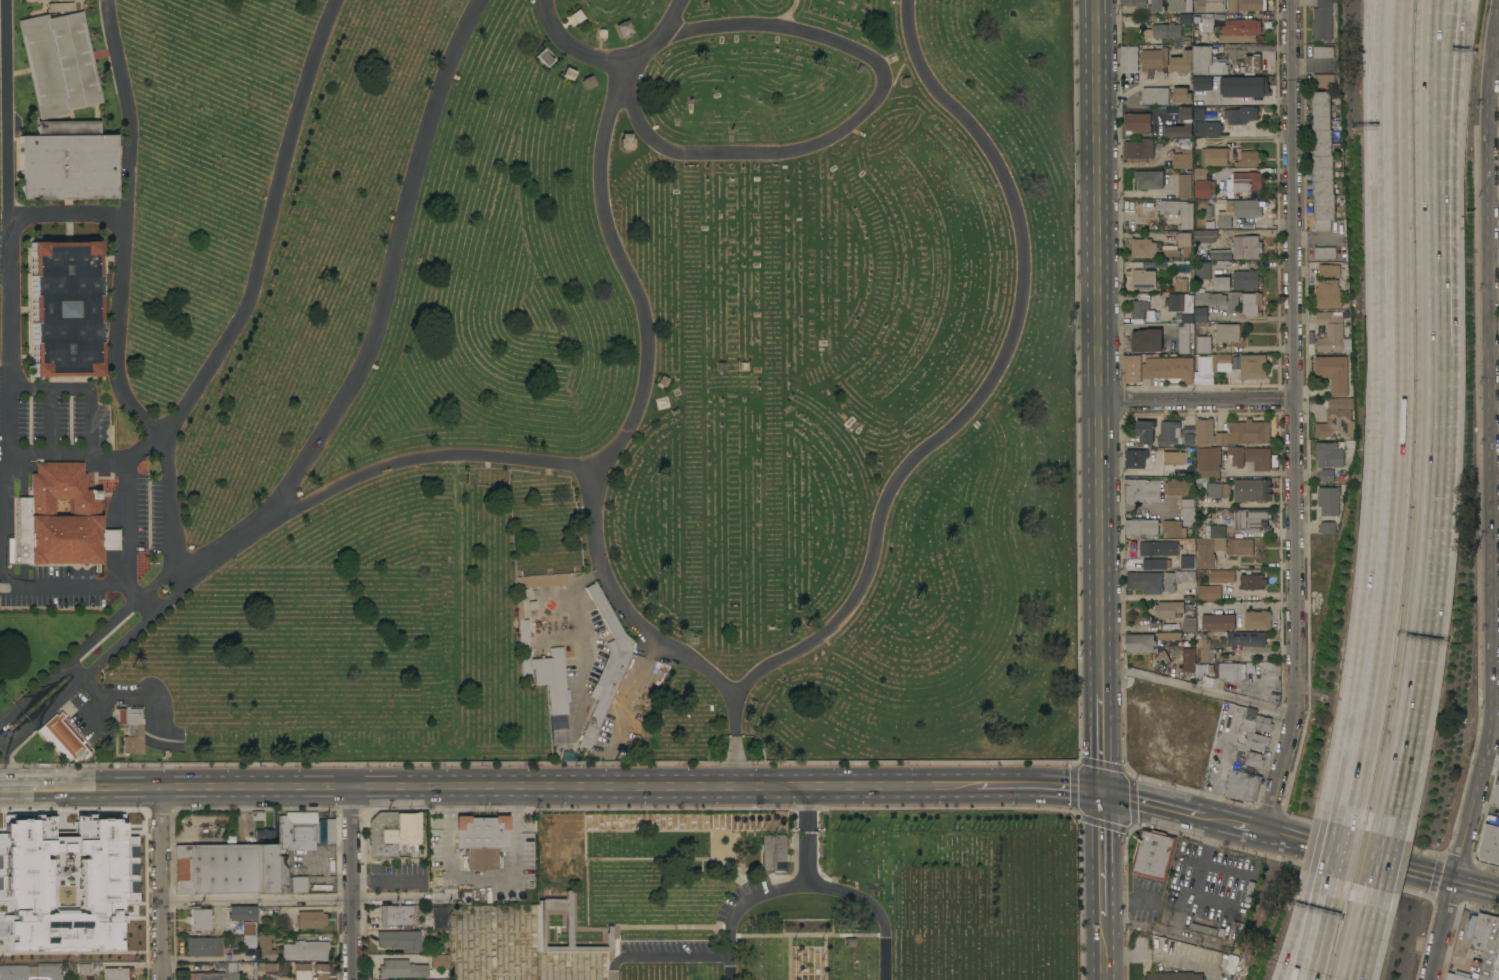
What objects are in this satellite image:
building: (43, 0)
building: (77, 0)
building: (1135, 2)
building: (1156, 5)
building: (1180, 5)
building: (1251, 5)
building: (60, 6)
building: (1233, 6)
building: (1209, 11)
road: (1440, 13)
road: (1441, 13)
building: (1323, 20)
building: (624, 27)
building: (1243, 28)
building: (1163, 30)
building: (1323, 51)
building: (544, 57)
building: (1154, 58)
building: (1129, 59)
building: (1181, 61)
building: (1207, 61)
building: (58, 62)
building: (1252, 63)
road: (1496, 69)
building: (1324, 79)
building: (1201, 83)
building: (1240, 83)
building: (1202, 91)
building: (1181, 94)
building: (1155, 95)
road: (1495, 100)
building: (1198, 113)
building: (1241, 114)
road: (6, 118)
building: (1186, 121)
building: (1137, 123)
building: (1207, 128)
road: (1495, 131)
road: (1253, 138)
building: (627, 141)
building: (1186, 142)
building: (1139, 148)
road: (803, 149)
building: (1214, 156)
building: (1183, 158)
building: (1249, 158)
building: (67, 160)
building: (1323, 162)
building: (1199, 173)
building: (1150, 179)
building: (1247, 181)
building: (1185, 185)
building: (1204, 188)
building: (1244, 207)
building: (1187, 219)
building: (1225, 221)
building: (1205, 235)
road: (1317, 237)
building: (1185, 242)
building: (1144, 247)
building: (1239, 248)
building: (1169, 250)
road: (1495, 251)
building: (1325, 252)
building: (1176, 266)
building: (1203, 269)
building: (1330, 270)
building: (1144, 279)
building: (1246, 279)
building: (1221, 283)
building: (1180, 284)
building: (1329, 292)
road: (1495, 292)
building: (1220, 299)
building: (1251, 304)
building: (1180, 305)
building: (1144, 306)
building: (44, 308)
building: (1200, 314)
road: (381, 315)
building: (1228, 332)
building: (1332, 332)
road: (1098, 336)
building: (1185, 338)
building: (1147, 339)
building: (1204, 344)
road: (7, 346)
road: (1495, 348)
building: (1211, 366)
building: (1253, 366)
building: (1169, 367)
building: (1131, 368)
road: (647, 370)
building: (1333, 372)
park: (537, 381)
road: (991, 383)
road: (84, 387)
road: (1197, 400)
building: (1341, 403)
road: (1389, 414)
road: (1296, 417)
building: (1336, 424)
road: (1496, 428)
road: (170, 430)
building: (1145, 430)
building: (1205, 430)
building: (1244, 432)
building: (1170, 433)
road: (1438, 434)
building: (1186, 439)
building: (1329, 454)
building: (1236, 455)
building: (1136, 457)
building: (1175, 457)
building: (1209, 457)
building: (1258, 457)
road: (415, 459)
road: (69, 460)
road: (1496, 469)
building: (1327, 474)
building: (1178, 486)
building: (1218, 489)
building: (1253, 489)
building: (1142, 490)
building: (1329, 500)
road: (1493, 500)
road: (175, 504)
building: (1188, 512)
road: (127, 516)
building: (62, 518)
building: (1251, 518)
building: (1141, 527)
building: (1328, 527)
building: (1173, 528)
building: (1210, 546)
building: (1239, 546)
building: (1171, 549)
building: (1154, 563)
building: (1222, 577)
building: (1178, 578)
building: (544, 579)
building: (1145, 581)
building: (1252, 581)
road: (68, 586)
building: (1209, 593)
building: (1168, 608)
building: (1257, 619)
building: (1218, 622)
building: (1190, 625)
building: (1169, 635)
building: (1246, 638)
building: (1140, 643)
building: (1202, 647)
road: (90, 656)
building: (606, 665)
building: (1195, 667)
building: (543, 668)
building: (1230, 670)
road: (1101, 683)
road: (1198, 690)
building: (1237, 722)
building: (131, 729)
building: (1255, 736)
building: (62, 738)
road: (737, 743)
road: (1102, 743)
road: (1492, 763)
road: (569, 786)
road: (1040, 786)
building: (1243, 786)
road: (100, 787)
road: (19, 788)
traffic signals: (1103, 793)
building: (1495, 794)
road: (1154, 805)
road: (1237, 824)
building: (297, 830)
building: (329, 831)
building: (481, 831)
building: (391, 832)
building: (4, 836)
road: (810, 836)
building: (1489, 844)
building: (127, 851)
building: (773, 852)
road: (1336, 852)
road: (1104, 853)
building: (1153, 854)
road: (1362, 856)
building: (47, 858)
road: (1381, 864)
building: (225, 867)
building: (286, 878)
building: (101, 880)
road: (388, 880)
road: (355, 882)
road: (162, 883)
road: (1328, 884)
road: (1478, 886)
park: (768, 895)
road: (259, 899)
road: (742, 909)
road: (877, 909)
building: (241, 913)
building: (395, 914)
building: (438, 917)
building: (310, 919)
building: (199, 920)
building: (566, 927)
building: (1203, 928)
building: (1238, 928)
road: (810, 935)
road: (1304, 935)
road: (1316, 935)
road: (1364, 935)
building: (399, 940)
building: (203, 946)
building: (258, 947)
road: (1105, 947)
building: (1482, 947)
building: (305, 950)
road: (1166, 955)
road: (665, 956)
road: (792, 957)
road: (828, 957)
building: (438, 961)
building: (1231, 962)
building: (266, 966)
building: (83, 968)
building: (401, 969)
building: (47, 971)
building: (301, 971)
building: (321, 971)
building: (17, 972)
building: (117, 973)
building: (218, 973)
building: (1174, 975)

